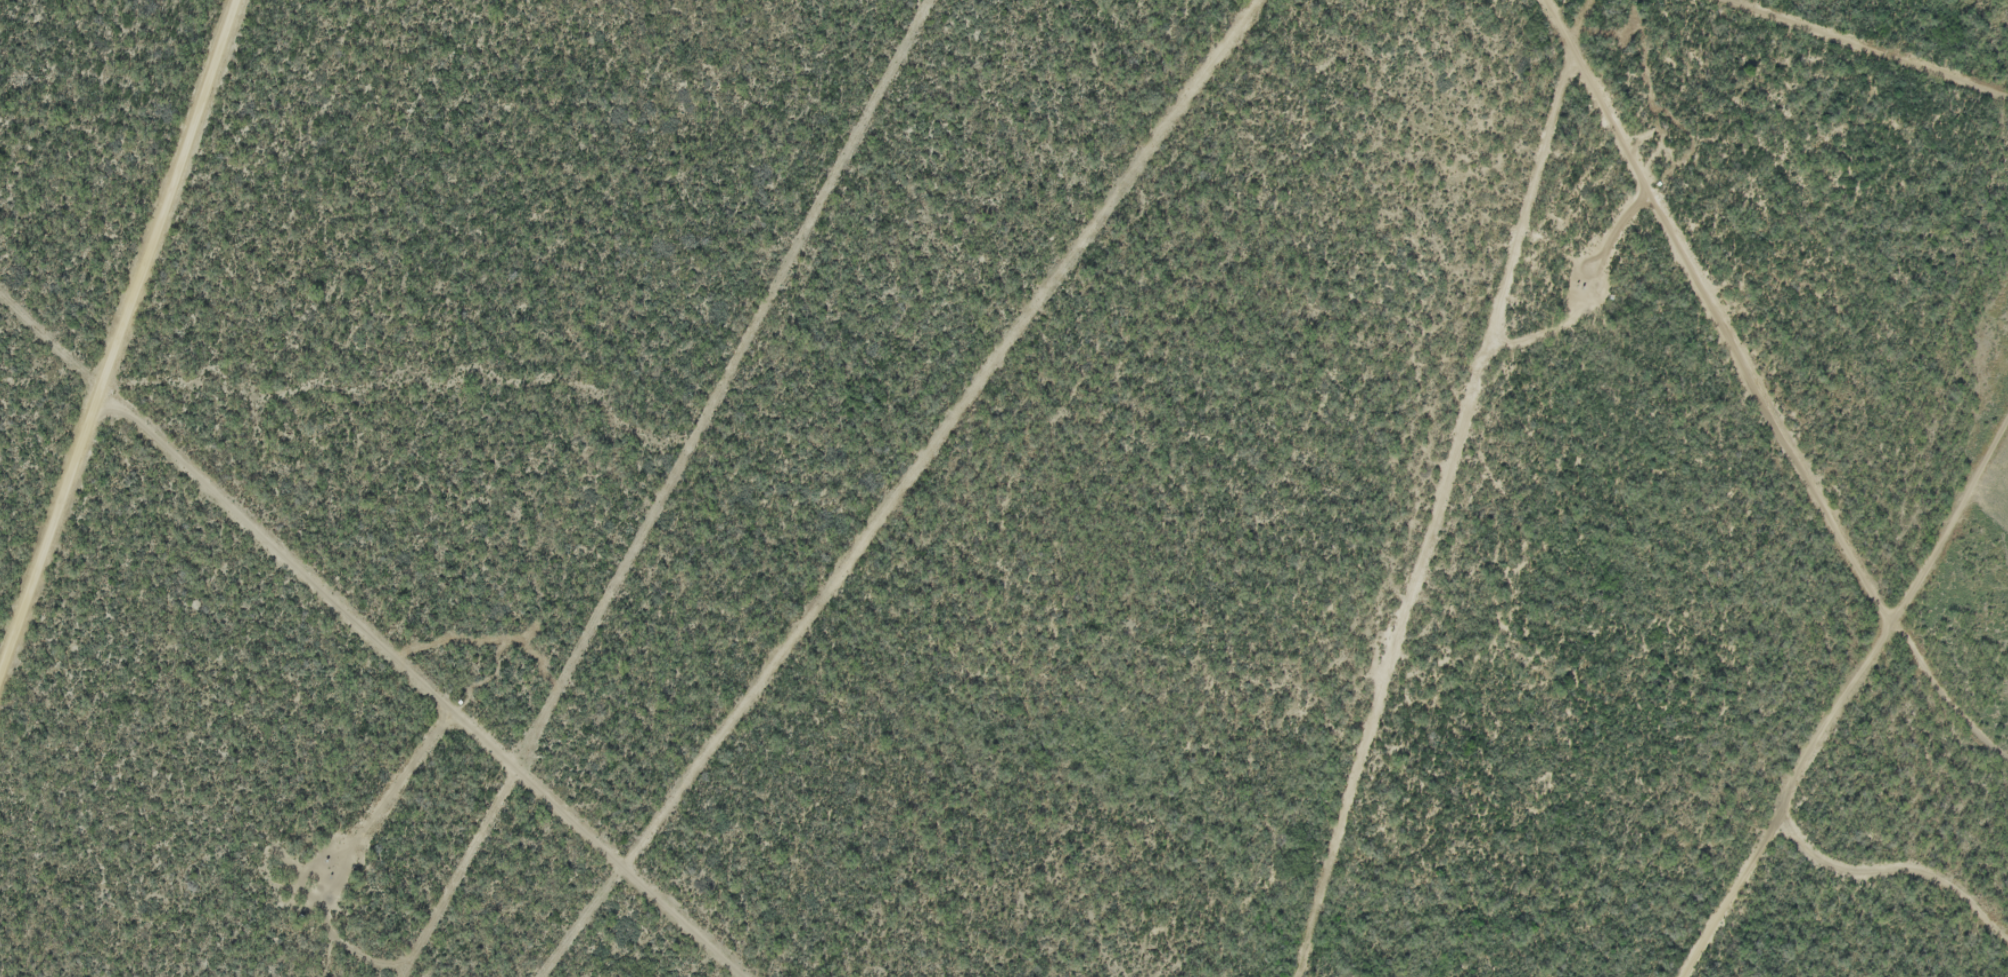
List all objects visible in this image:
road: (118, 334)
road: (426, 678)

